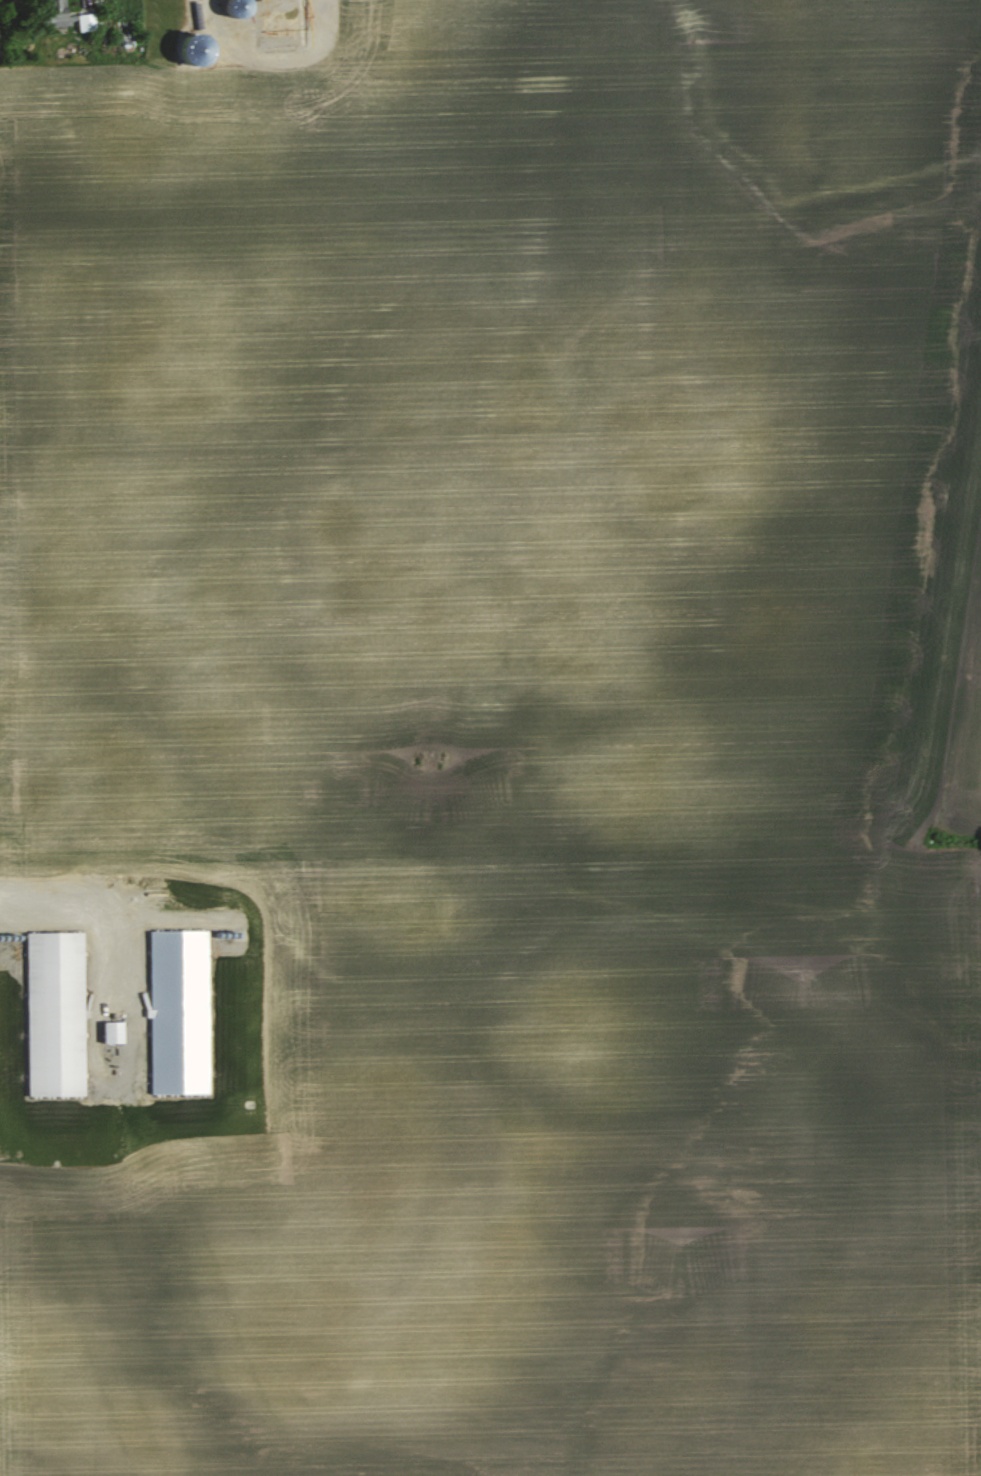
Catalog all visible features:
building: (73, 15)
building: (285, 22)
building: (129, 34)
road: (97, 900)
building: (58, 1012)
building: (116, 1030)

